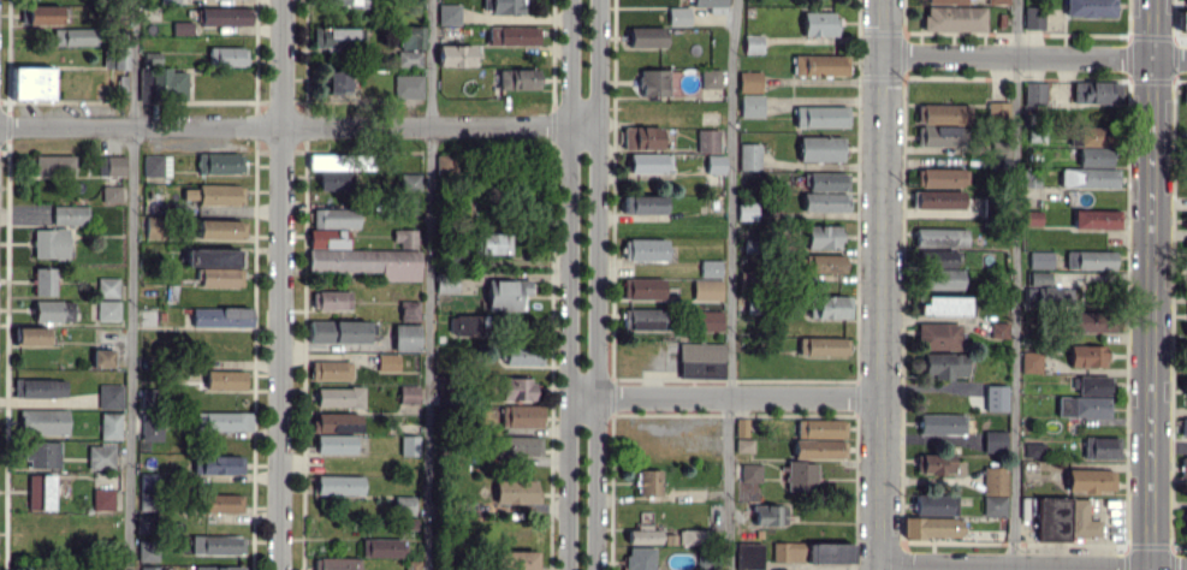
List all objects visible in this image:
building: (945, 1)
building: (997, 1)
building: (346, 2)
building: (1186, 2)
building: (711, 5)
building: (505, 6)
building: (1090, 7)
building: (43, 13)
building: (447, 13)
building: (222, 16)
building: (678, 16)
building: (1032, 17)
building: (954, 18)
building: (1182, 20)
building: (818, 23)
building: (182, 28)
building: (512, 35)
building: (73, 36)
building: (646, 36)
building: (753, 43)
building: (410, 46)
building: (226, 55)
building: (455, 55)
road: (1034, 57)
building: (820, 65)
building: (517, 78)
building: (710, 78)
building: (337, 81)
building: (749, 81)
building: (31, 82)
building: (653, 82)
building: (167, 83)
building: (408, 85)
building: (1091, 91)
building: (1033, 93)
building: (750, 106)
building: (997, 109)
building: (945, 113)
building: (820, 115)
road: (302, 127)
building: (938, 135)
building: (1093, 136)
building: (642, 137)
building: (707, 141)
building: (820, 148)
building: (999, 154)
building: (749, 155)
building: (1094, 156)
building: (326, 161)
building: (218, 162)
building: (648, 162)
building: (714, 164)
building: (53, 165)
building: (109, 165)
building: (156, 165)
building: (938, 177)
building: (1088, 177)
building: (332, 180)
building: (409, 180)
building: (111, 192)
building: (215, 194)
building: (938, 198)
building: (825, 201)
building: (642, 203)
building: (408, 204)
building: (746, 210)
building: (70, 214)
building: (1032, 216)
building: (333, 218)
building: (1096, 219)
building: (1185, 220)
building: (155, 226)
building: (219, 228)
building: (821, 236)
building: (404, 237)
building: (940, 237)
building: (326, 238)
building: (49, 243)
building: (493, 243)
building: (643, 249)
building: (939, 257)
building: (1039, 259)
building: (1090, 259)
building: (362, 261)
building: (826, 262)
building: (216, 266)
building: (710, 267)
building: (940, 278)
building: (43, 280)
building: (445, 283)
road: (429, 284)
road: (563, 284)
road: (730, 284)
road: (132, 285)
road: (281, 285)
road: (604, 285)
road: (880, 285)
road: (1016, 285)
road: (1147, 285)
building: (107, 286)
building: (642, 287)
building: (1040, 289)
building: (706, 290)
building: (506, 293)
building: (331, 299)
building: (940, 305)
building: (829, 307)
building: (107, 309)
building: (53, 310)
building: (408, 310)
building: (220, 317)
building: (642, 319)
building: (707, 319)
building: (1087, 321)
building: (464, 323)
building: (338, 331)
building: (998, 331)
building: (30, 336)
building: (938, 336)
building: (405, 337)
building: (820, 345)
building: (522, 355)
building: (1087, 355)
building: (101, 357)
building: (701, 357)
building: (387, 362)
building: (1031, 362)
building: (943, 366)
building: (330, 369)
building: (224, 379)
building: (1093, 384)
building: (40, 387)
building: (516, 388)
building: (408, 394)
building: (109, 396)
building: (339, 396)
road: (720, 397)
building: (995, 397)
building: (1082, 406)
building: (521, 415)
building: (42, 421)
building: (221, 421)
building: (336, 421)
building: (940, 423)
building: (109, 426)
building: (1183, 426)
building: (150, 427)
building: (820, 427)
building: (742, 435)
building: (993, 441)
building: (334, 444)
building: (409, 444)
building: (517, 447)
building: (819, 447)
building: (1033, 447)
building: (1100, 447)
building: (42, 453)
building: (101, 456)
building: (934, 463)
building: (216, 464)
building: (1183, 467)
building: (800, 475)
building: (1090, 480)
building: (749, 481)
building: (648, 482)
building: (338, 483)
building: (40, 491)
building: (148, 491)
building: (515, 491)
building: (995, 491)
building: (102, 498)
building: (220, 503)
building: (402, 504)
building: (934, 504)
building: (768, 513)
building: (1064, 518)
building: (1185, 522)
building: (932, 527)
building: (642, 530)
building: (693, 535)
building: (216, 545)
building: (380, 547)
building: (147, 551)
building: (811, 552)
building: (749, 556)
building: (640, 558)
building: (515, 559)
building: (336, 563)
road: (1032, 564)
building: (411, 565)
building: (154, 568)
building: (218, 568)

